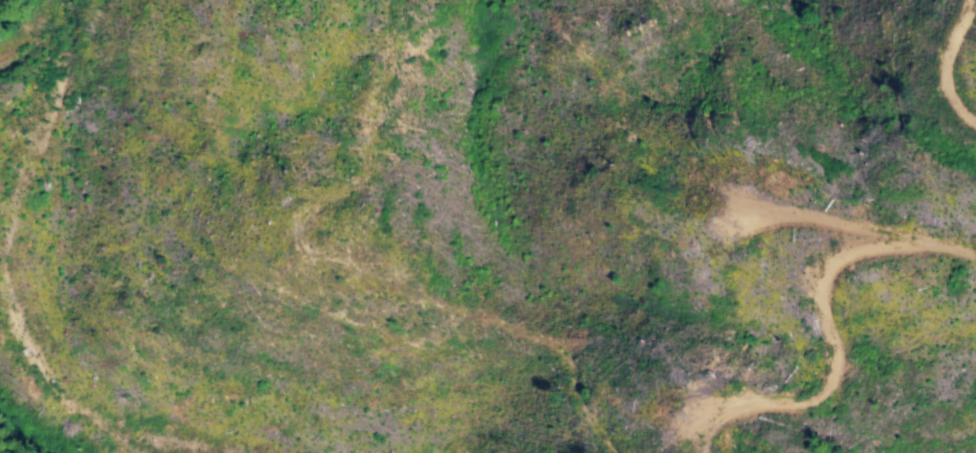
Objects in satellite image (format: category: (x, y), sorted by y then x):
road: (11, 10)

